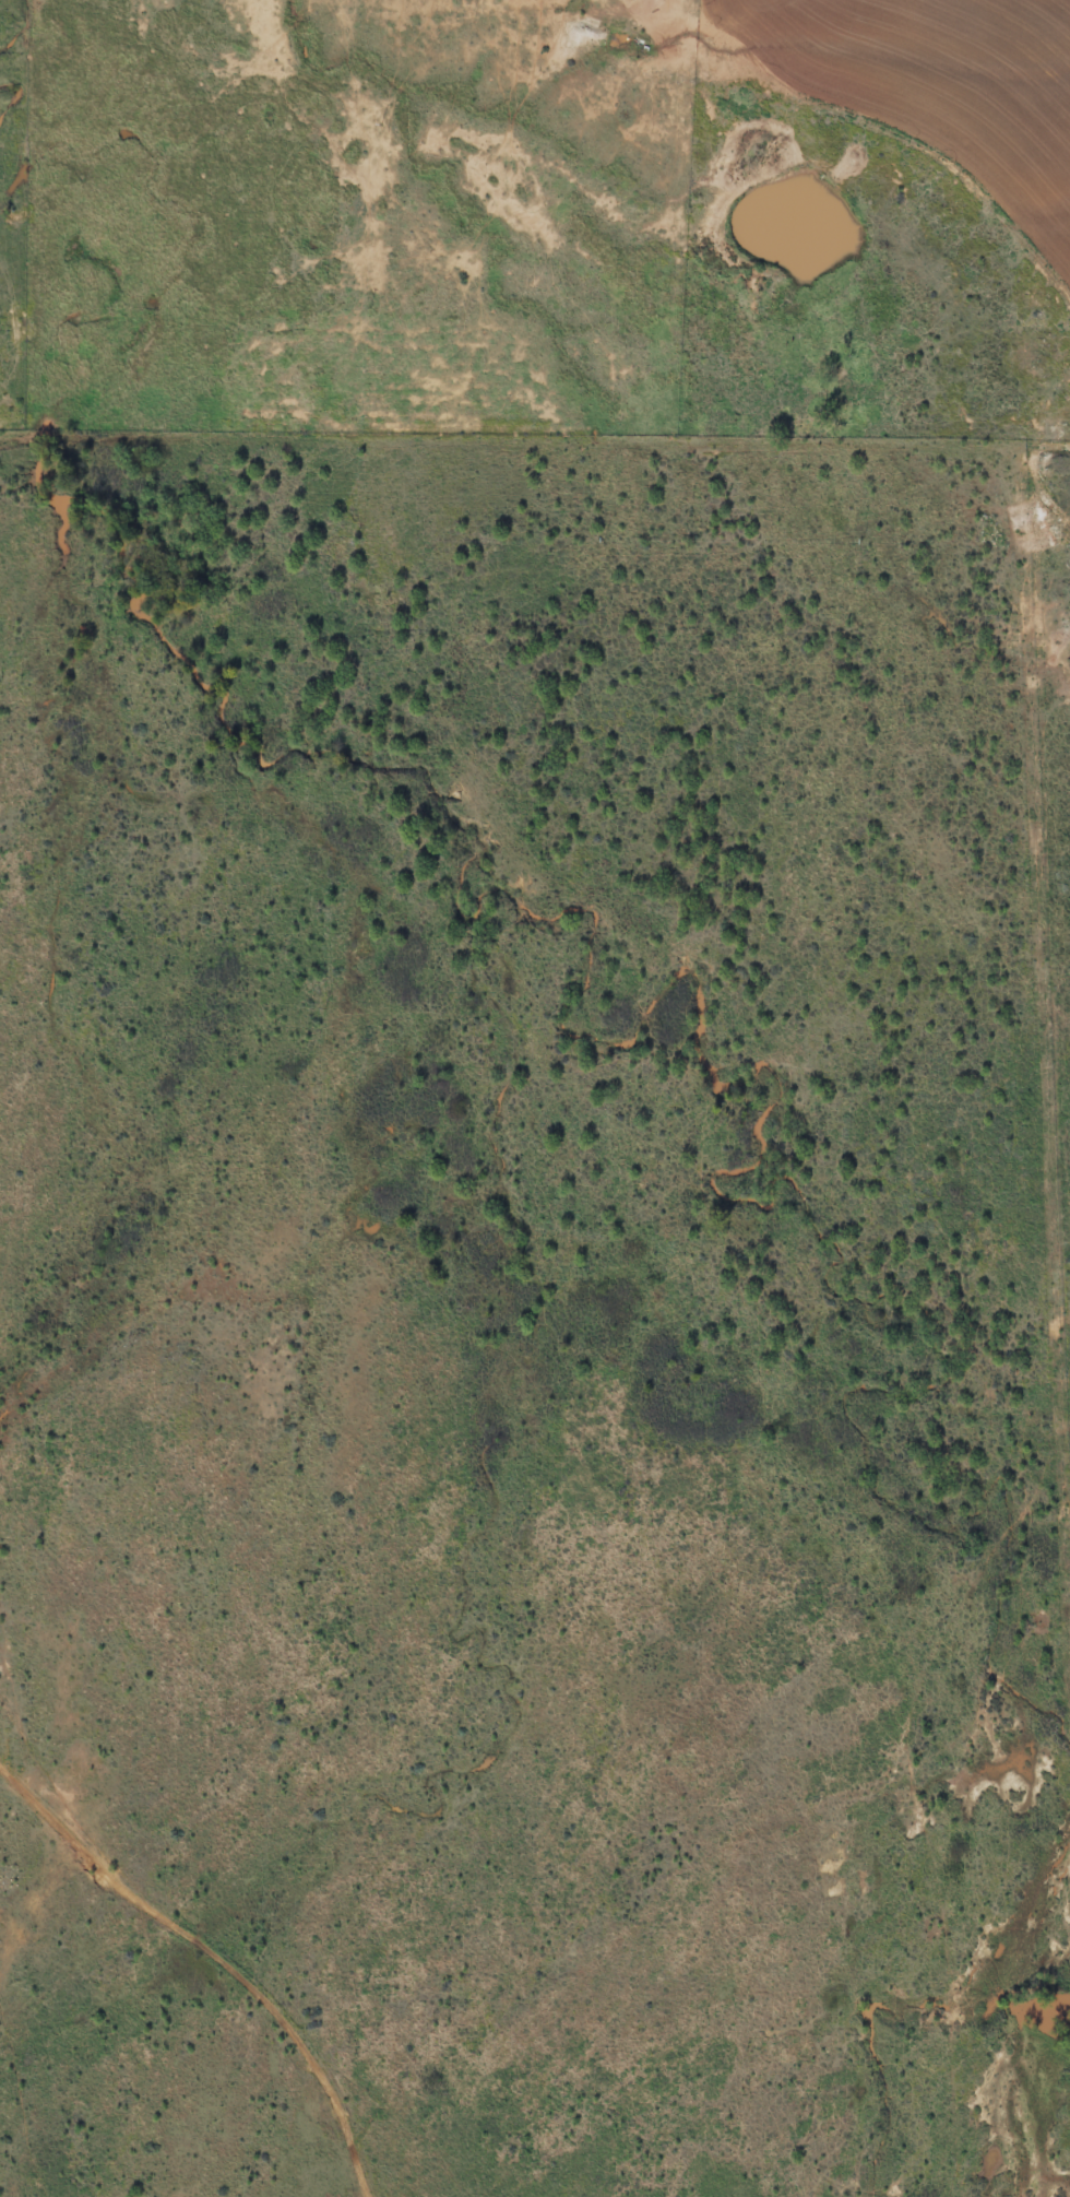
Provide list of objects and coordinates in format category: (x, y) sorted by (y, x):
road: (239, 1975)

